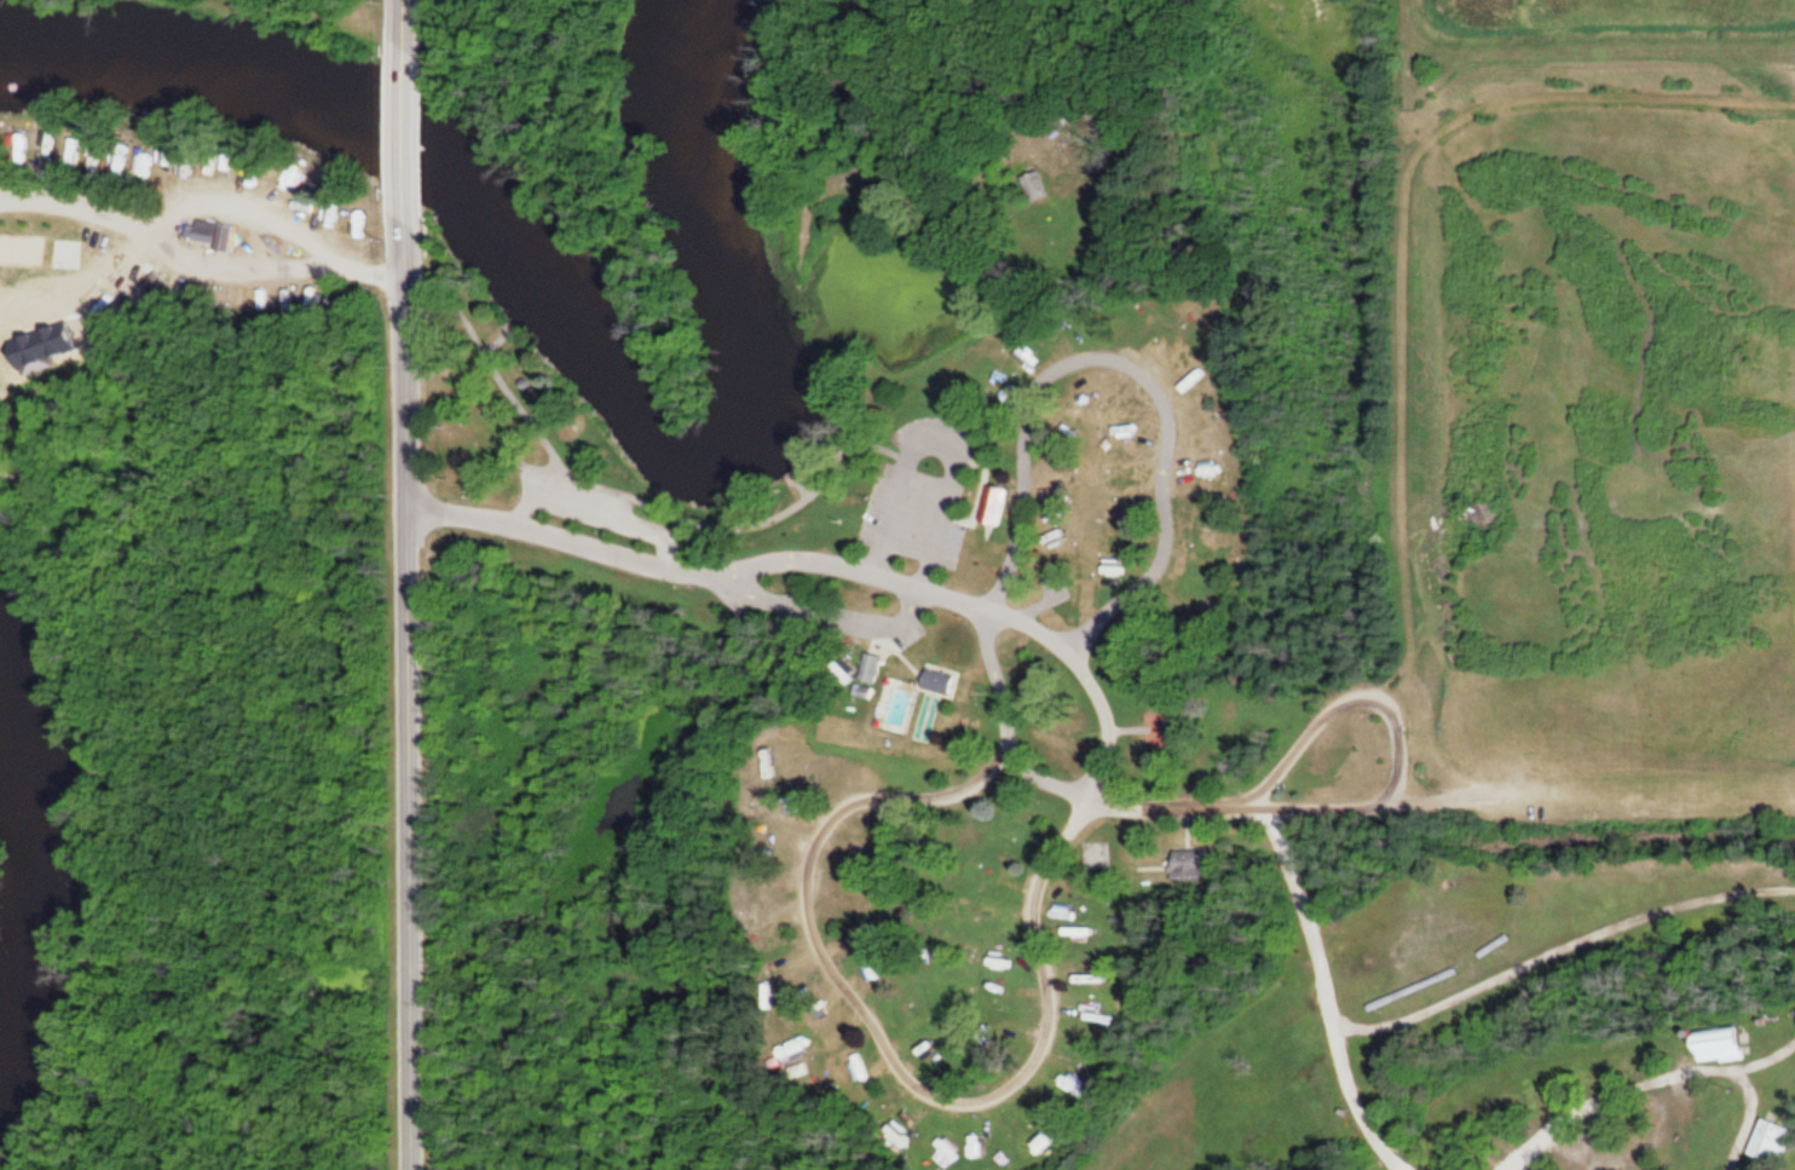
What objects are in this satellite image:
park: (304, 17)
road: (402, 22)
road: (404, 128)
road: (208, 200)
building: (212, 230)
building: (231, 236)
park: (21, 248)
road: (238, 269)
building: (165, 278)
building: (196, 290)
river: (583, 338)
building: (53, 342)
building: (1174, 344)
road: (1133, 364)
building: (1201, 415)
road: (940, 443)
building: (1135, 468)
building: (1224, 485)
parking lot: (927, 489)
parking lot: (579, 498)
building: (1000, 501)
road: (596, 509)
building: (1056, 547)
building: (1124, 570)
road: (935, 590)
building: (1067, 594)
park: (1136, 609)
road: (825, 611)
building: (875, 665)
building: (945, 680)
road: (404, 690)
road: (1389, 793)
building: (1102, 853)
building: (1193, 863)
building: (1008, 875)
building: (856, 876)
river: (36, 883)
building: (1069, 909)
building: (1081, 932)
building: (914, 1033)
building: (825, 1037)
building: (1714, 1045)
road: (890, 1050)
building: (1074, 1083)
building: (986, 1141)
building: (1767, 1142)
building: (951, 1143)

